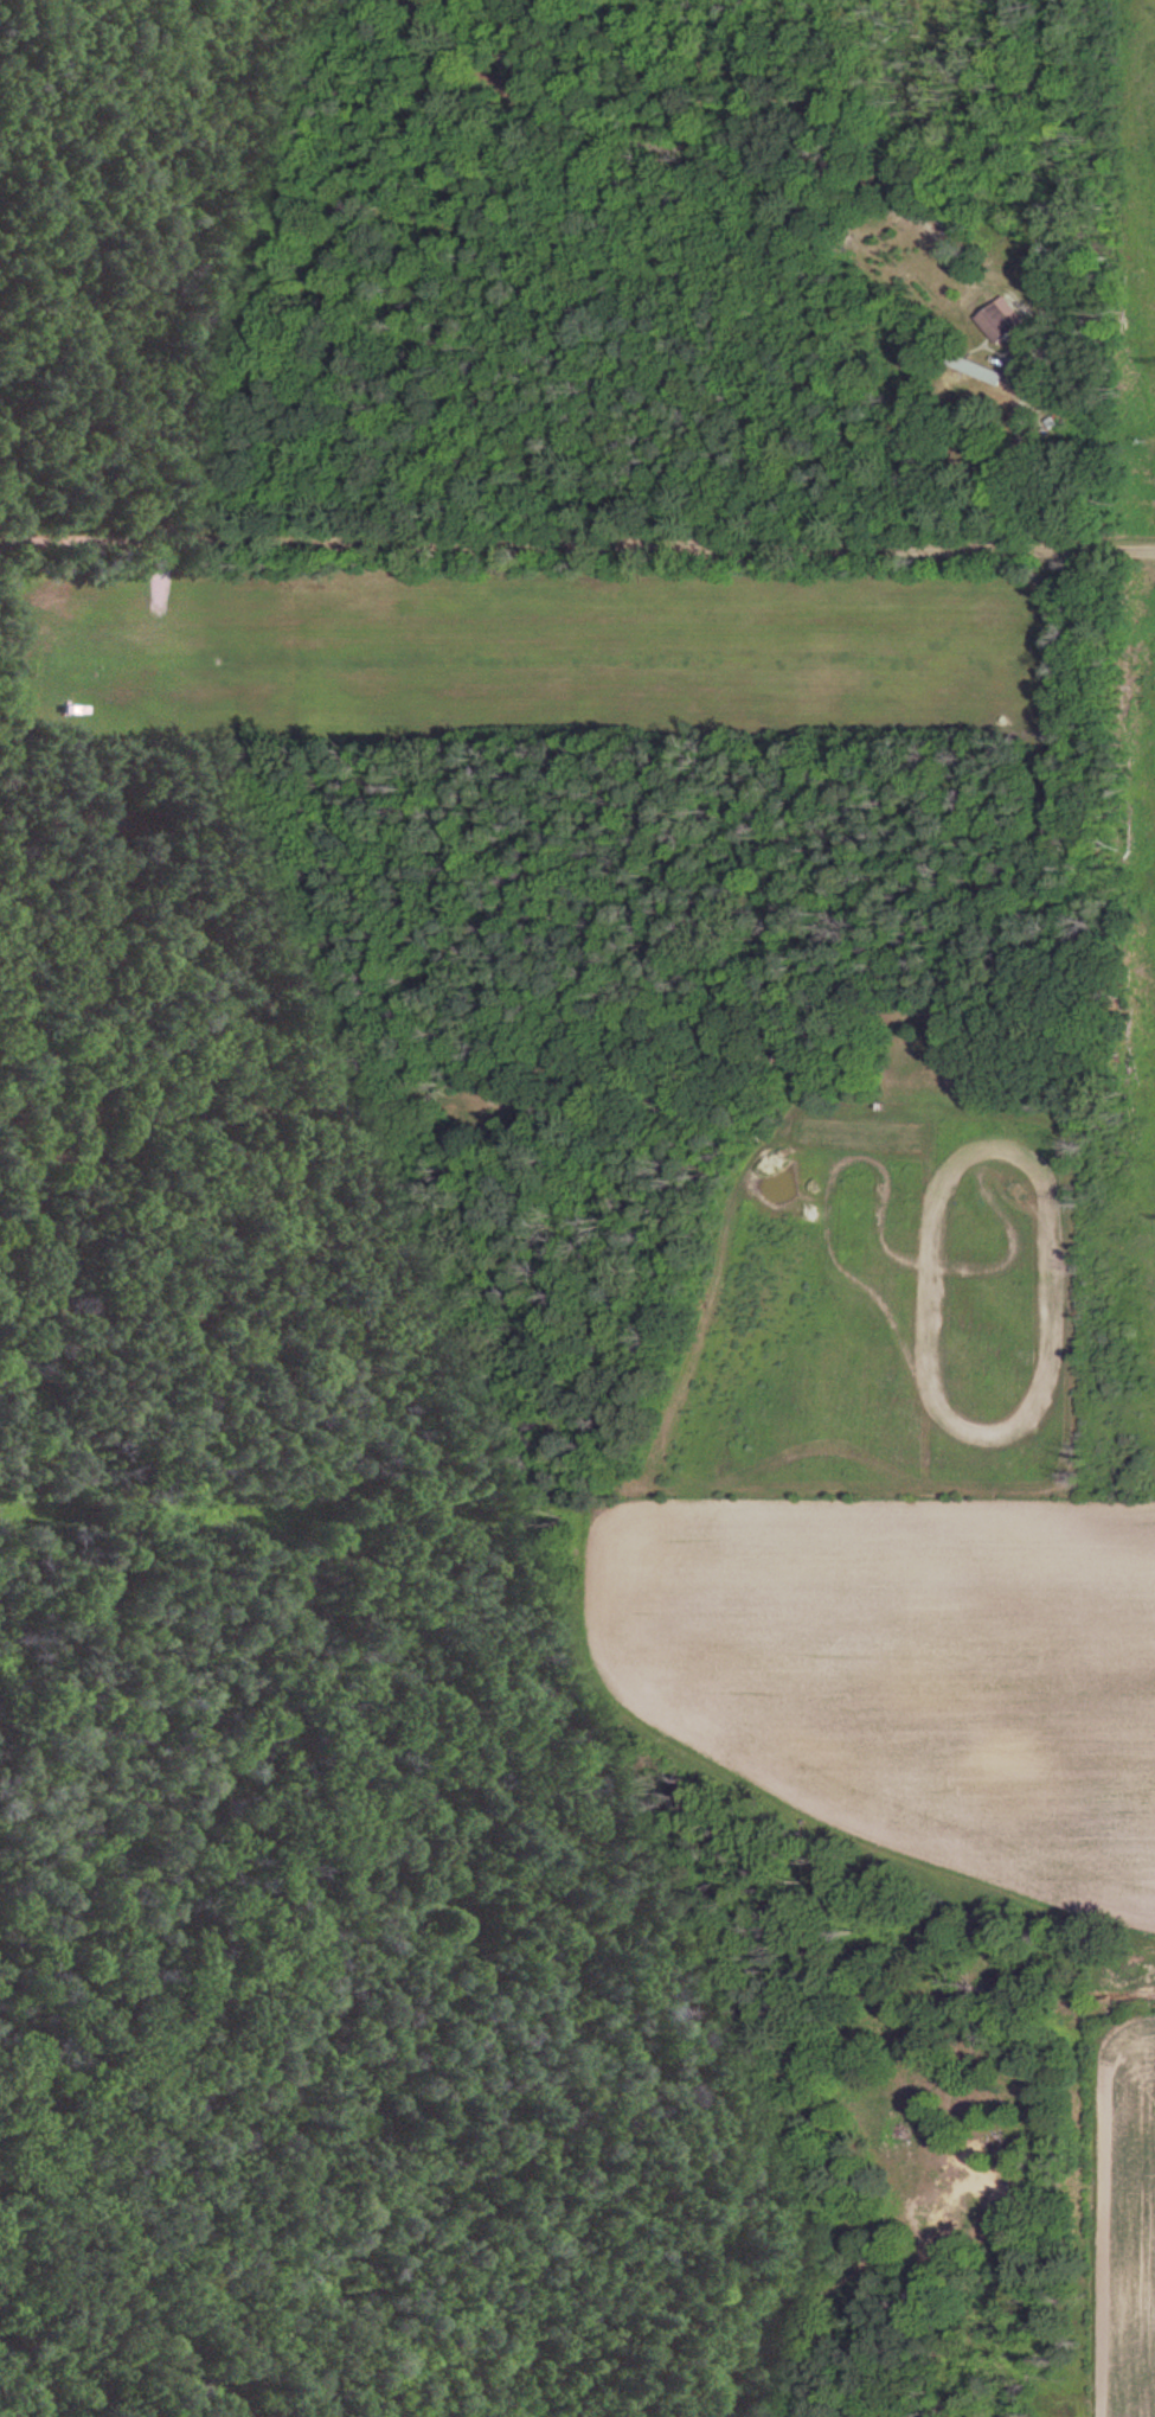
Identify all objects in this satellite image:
building: (1003, 321)
building: (981, 371)
road: (577, 550)

